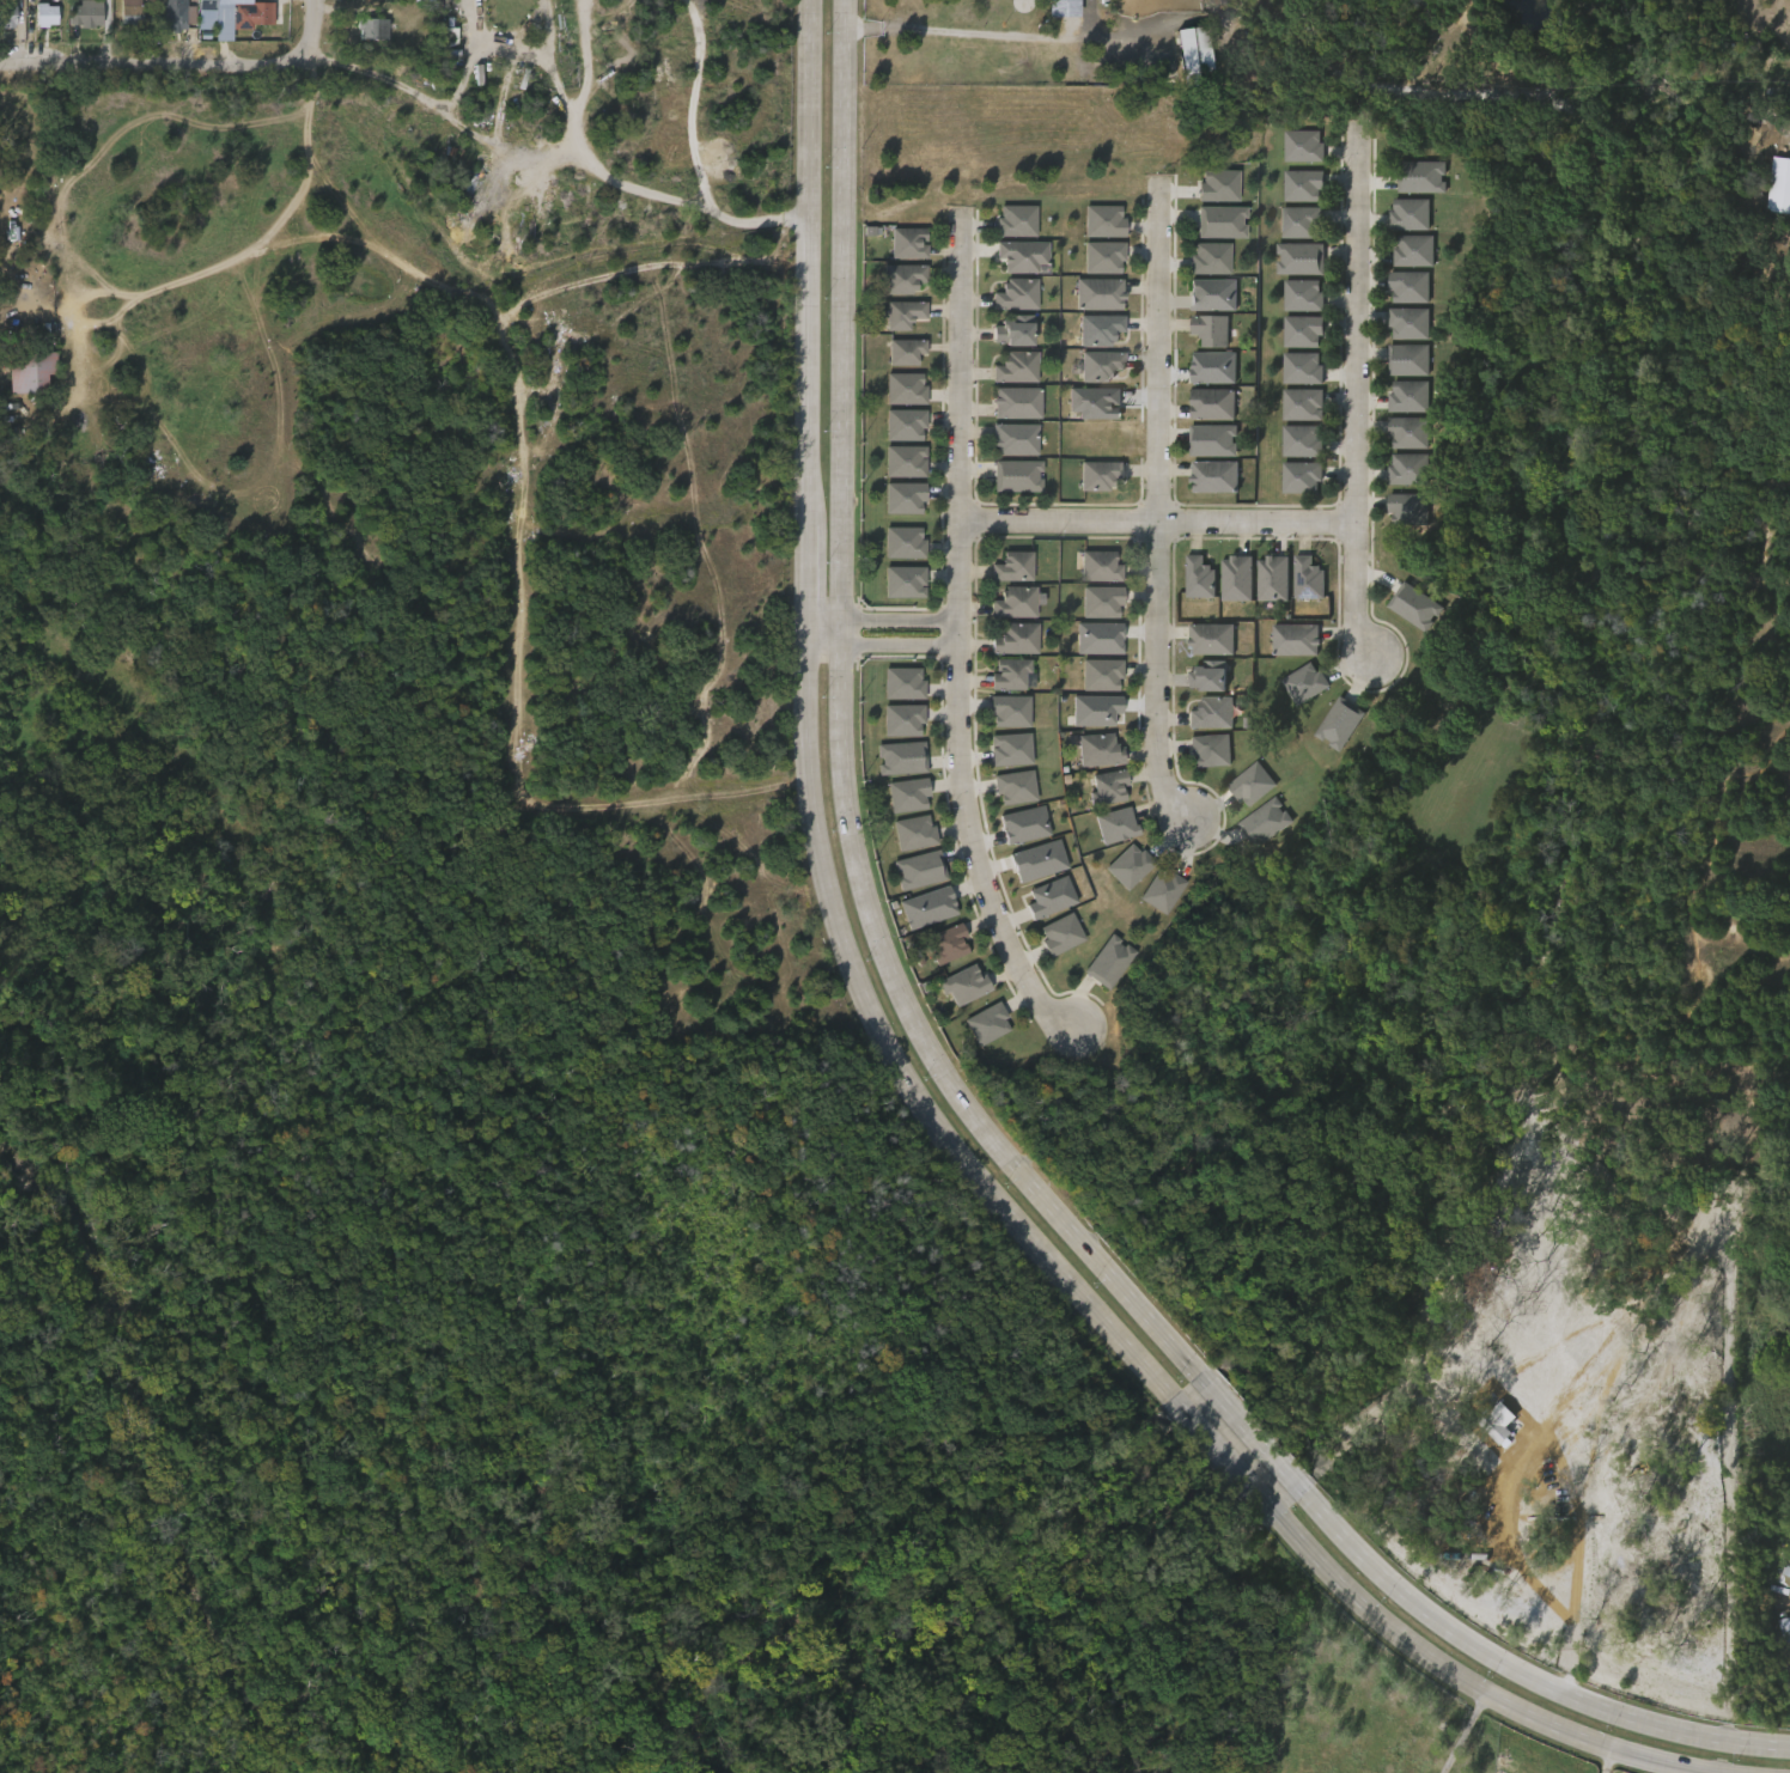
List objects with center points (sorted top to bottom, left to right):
building: (412, 5)
building: (130, 12)
building: (85, 16)
road: (321, 16)
building: (178, 17)
building: (229, 17)
building: (122, 20)
building: (37, 25)
building: (2, 26)
building: (372, 28)
road: (956, 31)
building: (363, 38)
building: (1183, 60)
road: (172, 72)
road: (584, 78)
road: (694, 105)
road: (1565, 108)
building: (1302, 147)
road: (559, 154)
building: (1420, 177)
building: (1216, 187)
building: (1302, 188)
building: (1772, 205)
building: (1408, 215)
building: (1016, 221)
building: (1103, 223)
building: (1220, 224)
building: (1299, 224)
building: (907, 243)
building: (899, 252)
building: (1412, 252)
building: (1103, 260)
building: (1210, 260)
building: (1298, 261)
building: (1011, 266)
building: (903, 276)
building: (893, 288)
building: (1407, 290)
building: (1018, 293)
building: (1100, 293)
building: (1302, 297)
building: (1088, 304)
building: (1203, 304)
building: (903, 312)
building: (894, 324)
building: (1407, 325)
building: (1100, 328)
building: (1016, 329)
building: (1211, 329)
building: (1302, 334)
building: (1003, 340)
building: (1199, 340)
building: (906, 351)
building: (895, 361)
building: (1406, 361)
building: (1101, 365)
building: (1017, 366)
building: (1301, 370)
building: (30, 371)
building: (1203, 377)
building: (905, 391)
road: (1356, 397)
building: (1406, 398)
building: (1017, 402)
building: (1213, 403)
building: (1301, 406)
building: (1005, 413)
building: (1084, 413)
building: (1201, 414)
building: (903, 427)
building: (1405, 434)
building: (1015, 438)
building: (1212, 443)
building: (1301, 443)
building: (1004, 449)
building: (903, 463)
building: (1406, 470)
building: (1101, 474)
building: (1214, 476)
building: (1015, 477)
building: (1301, 480)
building: (902, 500)
road: (1158, 510)
building: (1404, 510)
road: (1158, 523)
building: (903, 544)
building: (1015, 566)
building: (1100, 566)
building: (1003, 577)
building: (1089, 577)
building: (1199, 577)
building: (1237, 578)
building: (1273, 578)
building: (1309, 578)
building: (903, 584)
building: (1188, 587)
building: (1296, 587)
building: (1225, 589)
building: (1261, 589)
building: (1016, 602)
building: (1101, 603)
building: (1415, 605)
building: (1404, 616)
road: (891, 621)
road: (828, 630)
building: (1017, 638)
building: (1212, 638)
road: (961, 639)
building: (1296, 639)
road: (914, 646)
building: (1089, 647)
building: (1201, 648)
building: (1284, 650)
building: (1010, 674)
building: (1211, 676)
building: (1101, 677)
building: (903, 684)
building: (1303, 684)
building: (1198, 686)
building: (1212, 713)
building: (1009, 714)
building: (1085, 719)
building: (903, 721)
building: (1337, 726)
building: (1100, 749)
building: (1010, 751)
building: (1208, 751)
building: (901, 760)
building: (1089, 760)
building: (1249, 786)
building: (1108, 787)
building: (1013, 790)
building: (907, 797)
building: (1118, 824)
building: (1262, 824)
building: (914, 834)
building: (1015, 834)
building: (1106, 834)
building: (1126, 866)
building: (1028, 870)
building: (919, 871)
building: (1159, 891)
building: (1040, 907)
building: (918, 916)
building: (1059, 936)
building: (949, 943)
building: (1108, 962)
building: (964, 986)
building: (985, 1025)
road: (903, 1068)
road: (956, 1083)
building: (1487, 1432)
road: (1461, 1734)
road: (1597, 1760)

